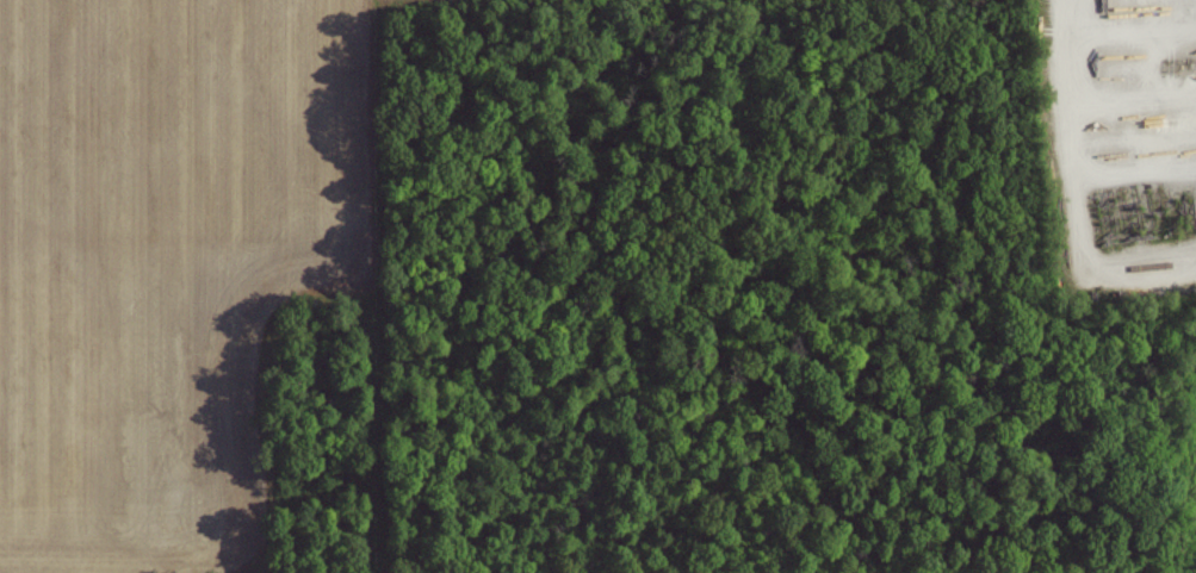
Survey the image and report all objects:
crop: (167, 250)
crop: (1122, 571)
crop: (6, 572)

